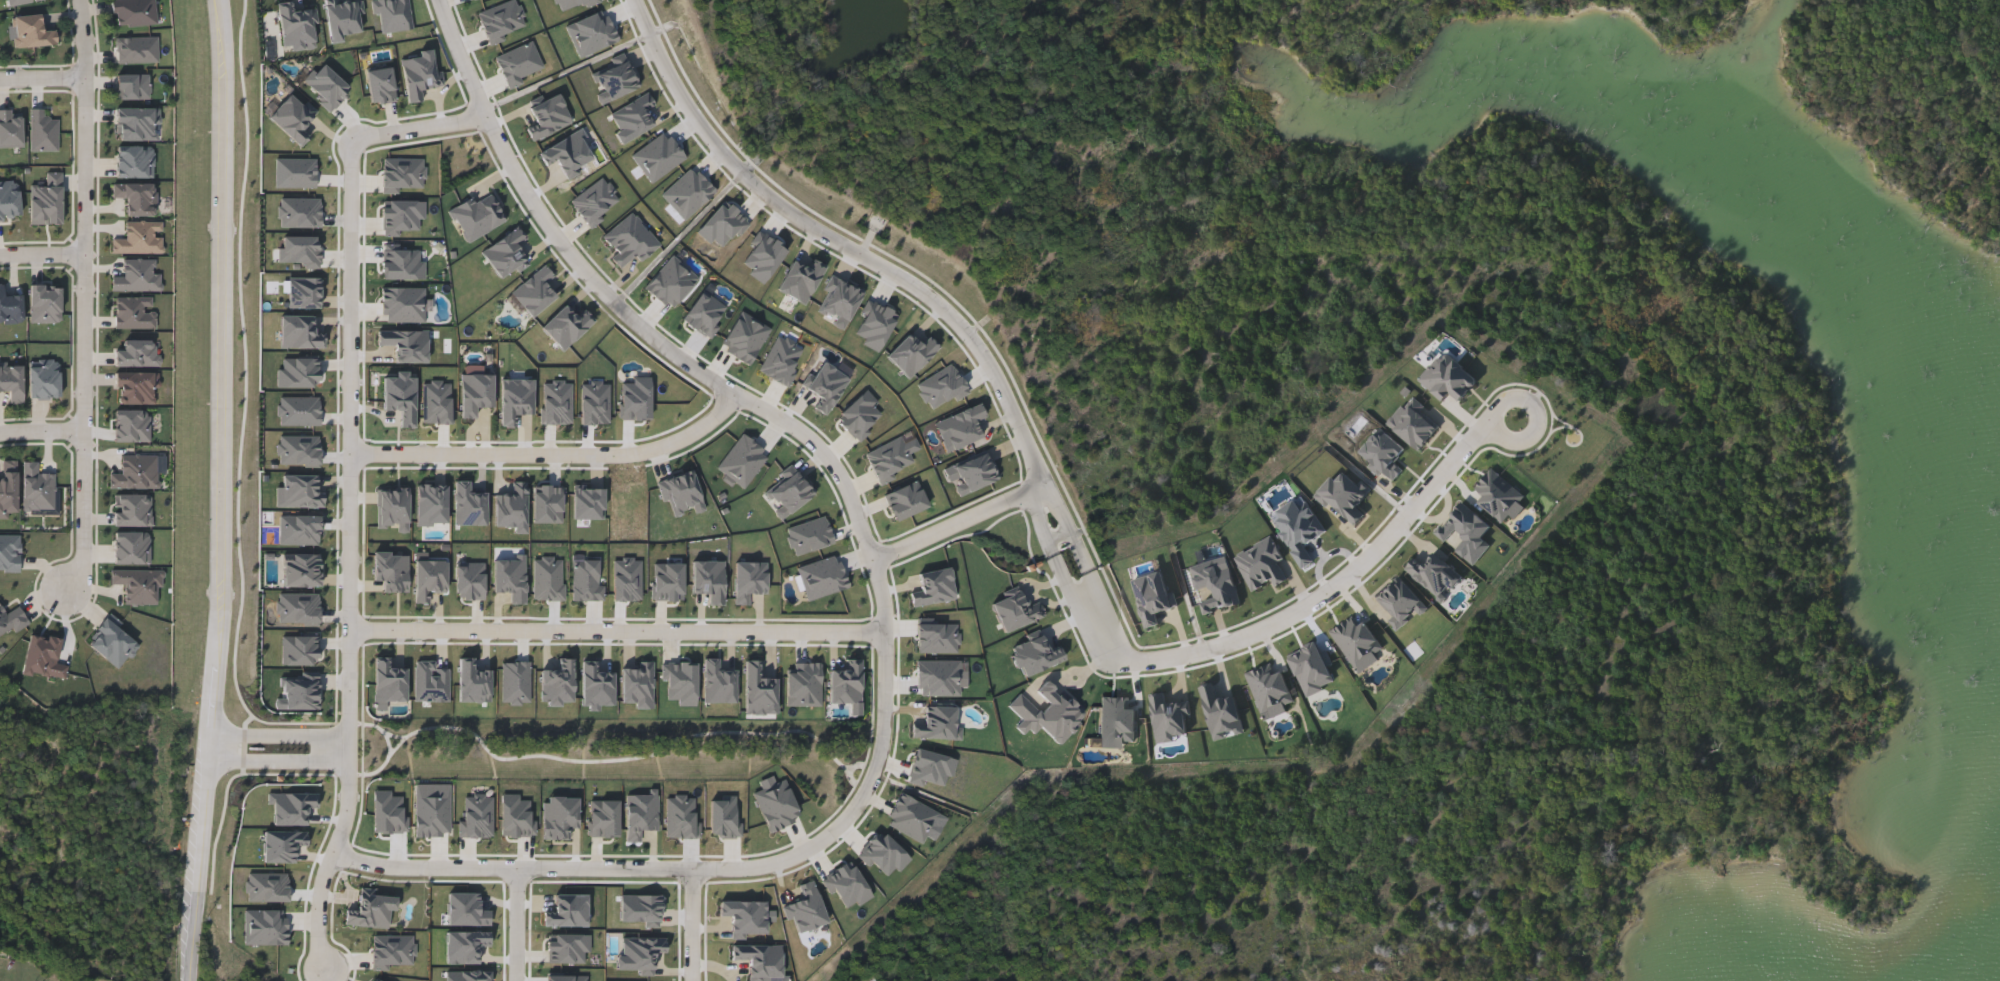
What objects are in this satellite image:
building: (18, 1)
building: (133, 12)
building: (31, 31)
road: (44, 75)
building: (132, 85)
building: (42, 130)
road: (43, 251)
road: (911, 252)
road: (880, 261)
road: (86, 295)
road: (252, 397)
road: (1522, 400)
road: (41, 426)
road: (552, 454)
road: (218, 491)
road: (350, 493)
road: (960, 524)
road: (883, 591)
road: (1290, 615)
road: (618, 633)
road: (281, 739)
road: (279, 760)
road: (517, 925)
road: (692, 925)
road: (715, 966)

